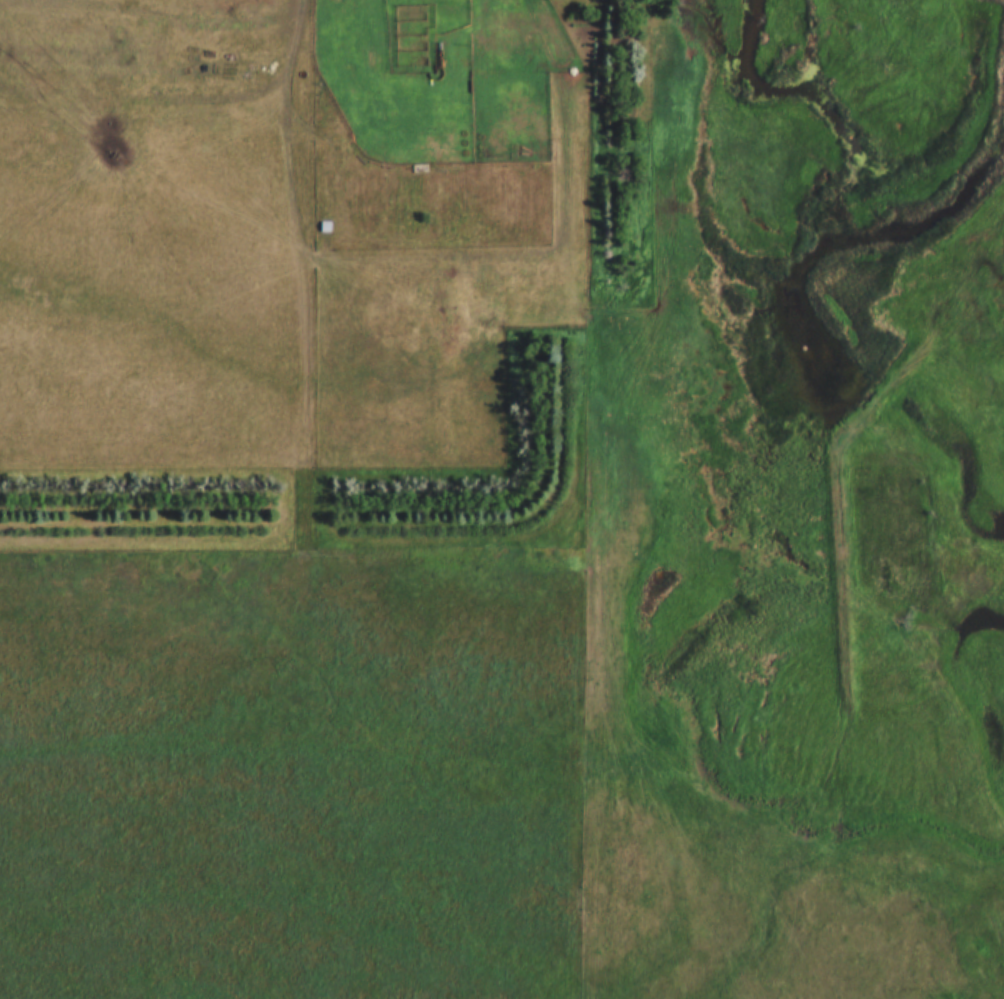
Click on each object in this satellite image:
road: (300, 113)

